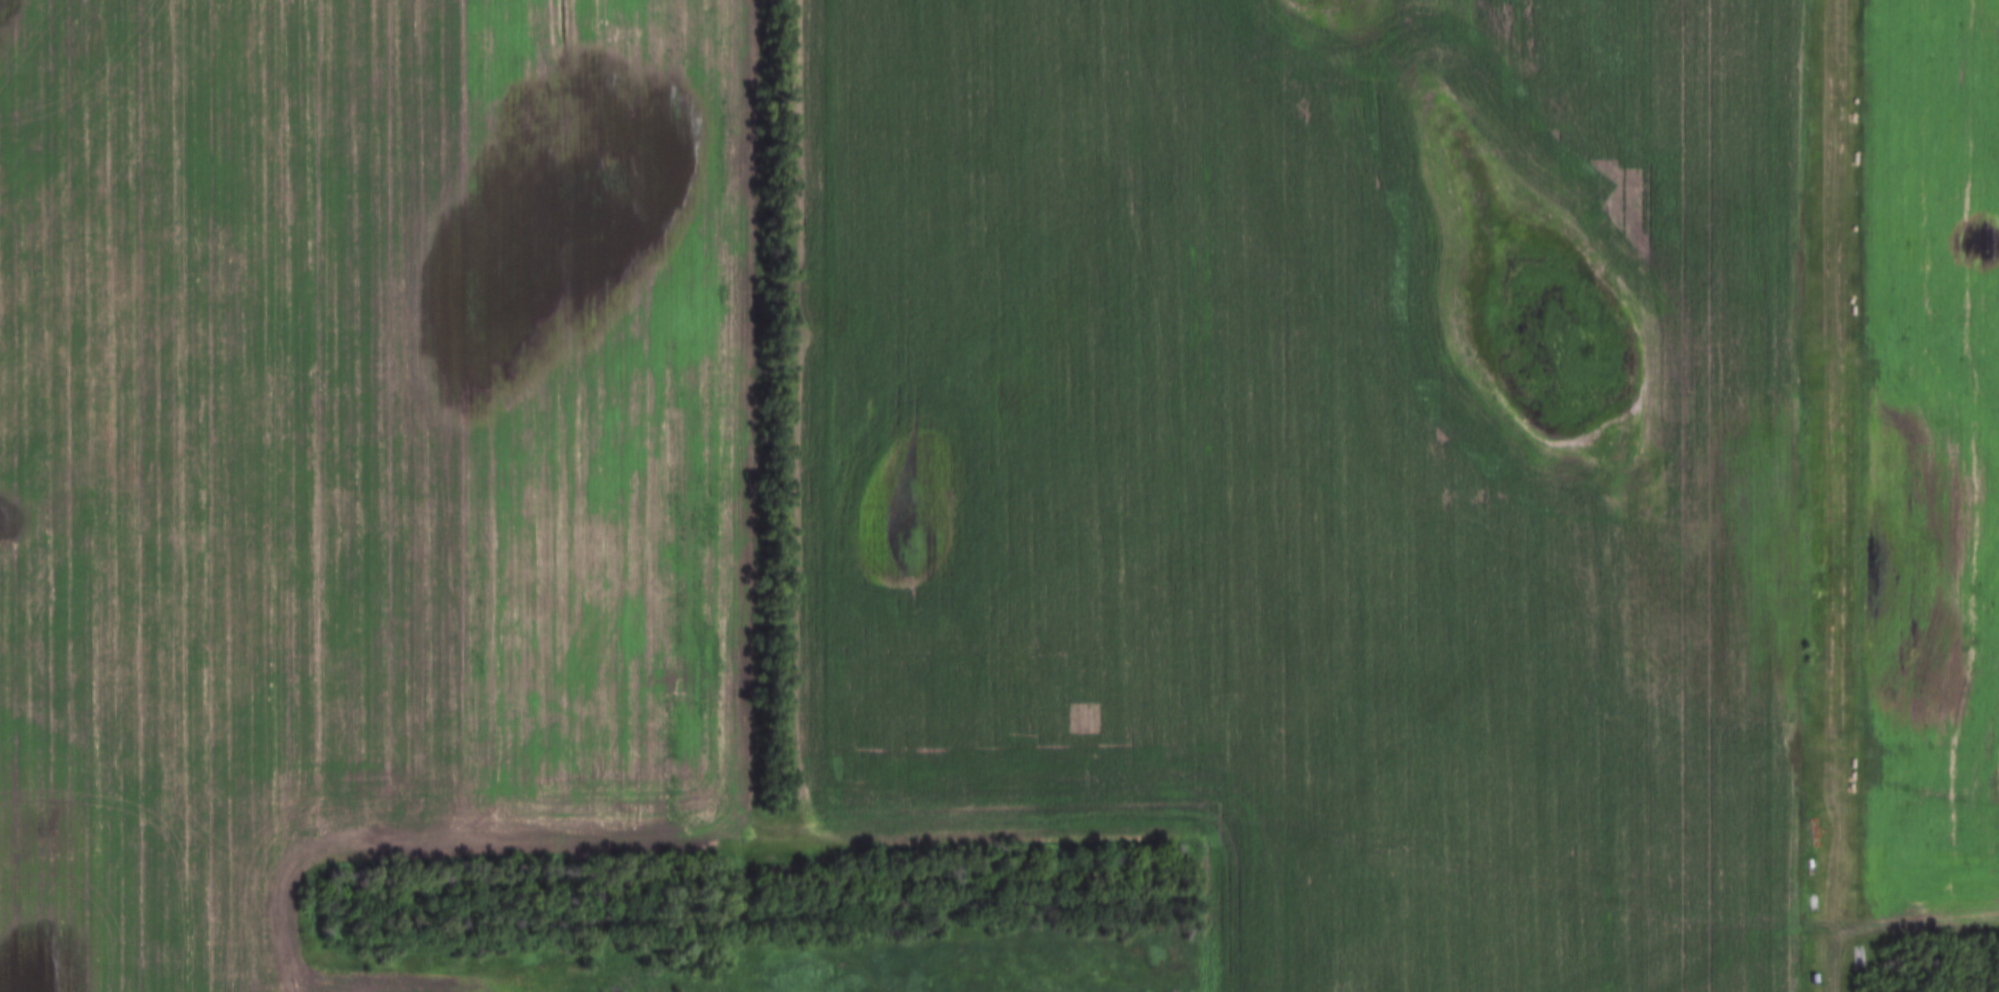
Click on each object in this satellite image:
road: (1837, 495)

